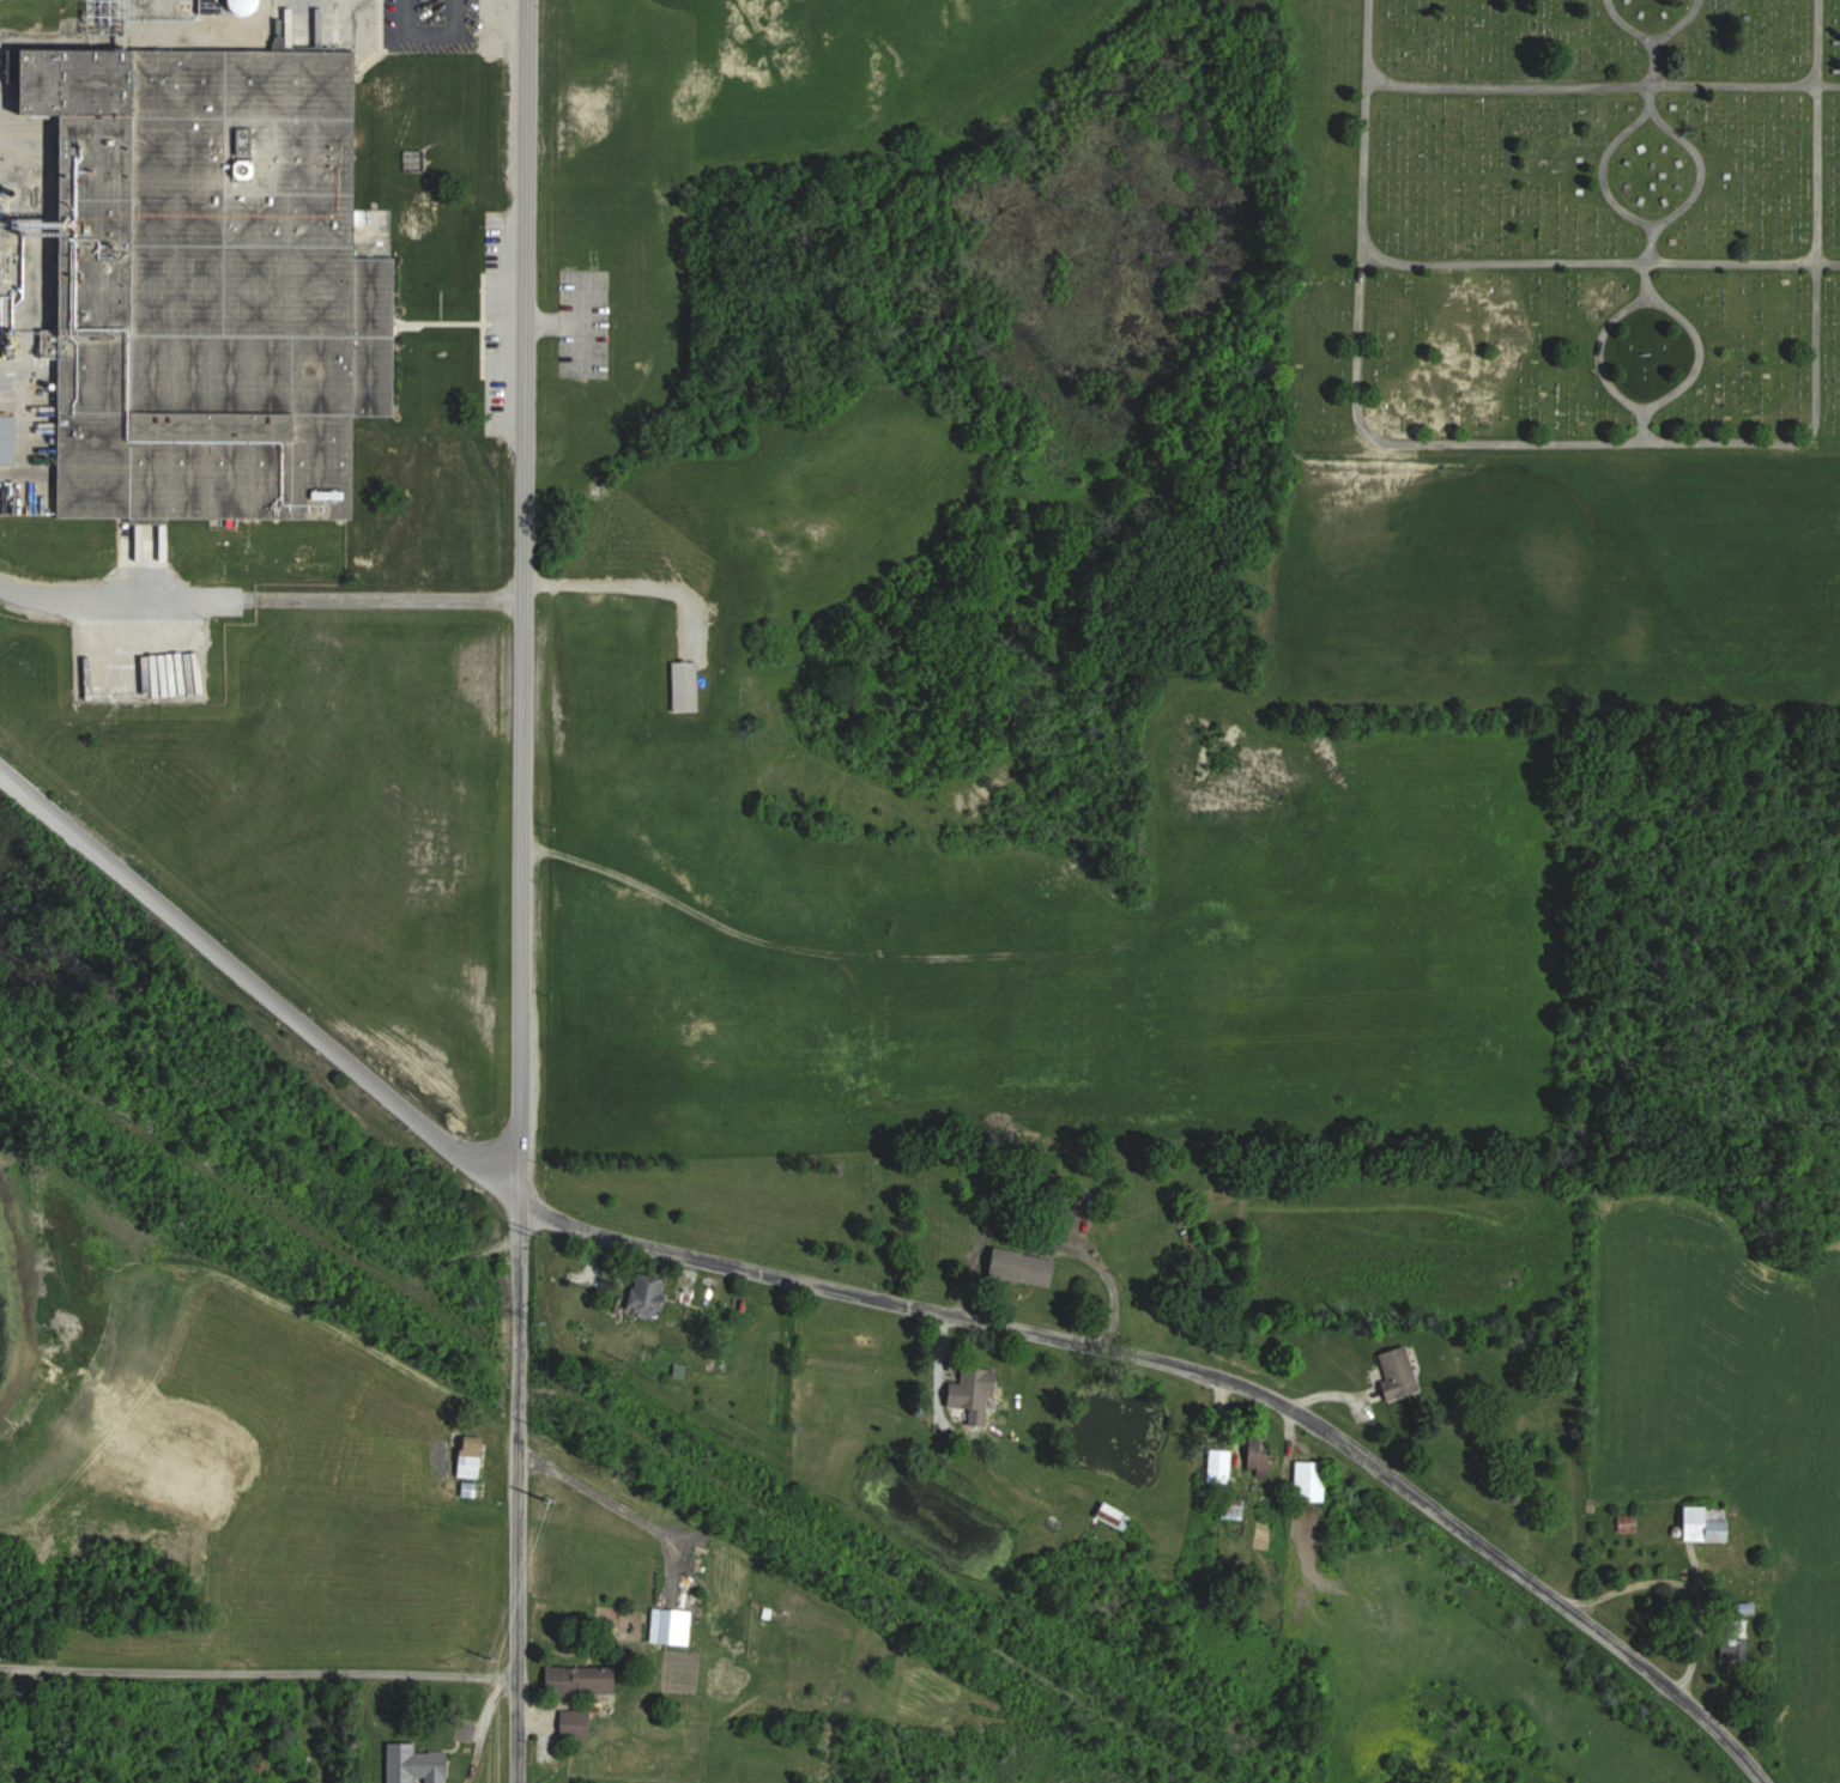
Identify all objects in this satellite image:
building: (248, 6)
road: (434, 31)
building: (580, 71)
building: (582, 236)
building: (214, 280)
park: (1548, 356)
road: (12, 371)
building: (11, 438)
road: (1585, 439)
road: (631, 581)
road: (261, 598)
road: (523, 685)
building: (689, 685)
road: (1039, 1238)
building: (1034, 1270)
building: (648, 1294)
road: (862, 1310)
building: (1400, 1373)
building: (979, 1391)
building: (474, 1458)
building: (1224, 1467)
building: (1315, 1481)
building: (1119, 1516)
building: (1709, 1524)
road: (514, 1577)
road: (255, 1669)
building: (587, 1680)
building: (582, 1724)
building: (630, 1759)
building: (419, 1765)

